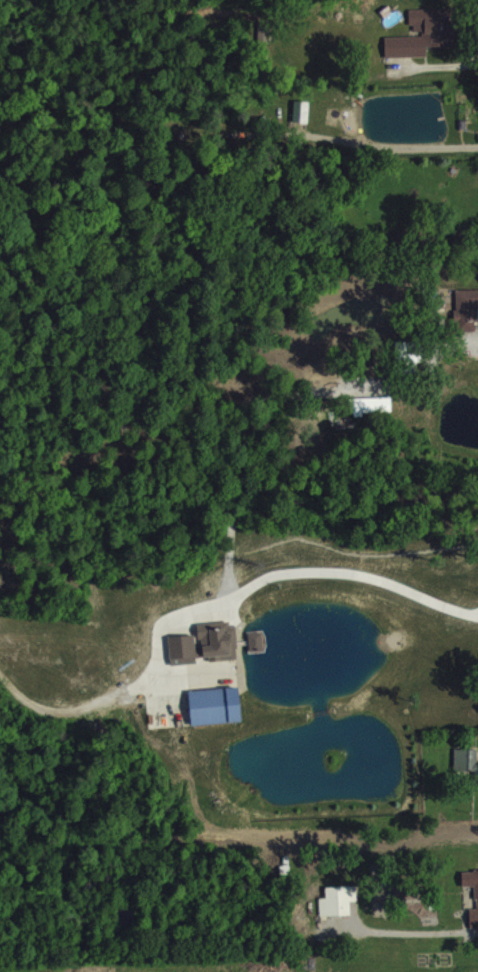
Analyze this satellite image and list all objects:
building: (422, 45)
building: (300, 123)
building: (466, 321)
building: (372, 418)
road: (331, 584)
building: (255, 653)
building: (205, 656)
building: (215, 717)
building: (467, 774)
building: (476, 909)
building: (338, 912)
road: (435, 944)

